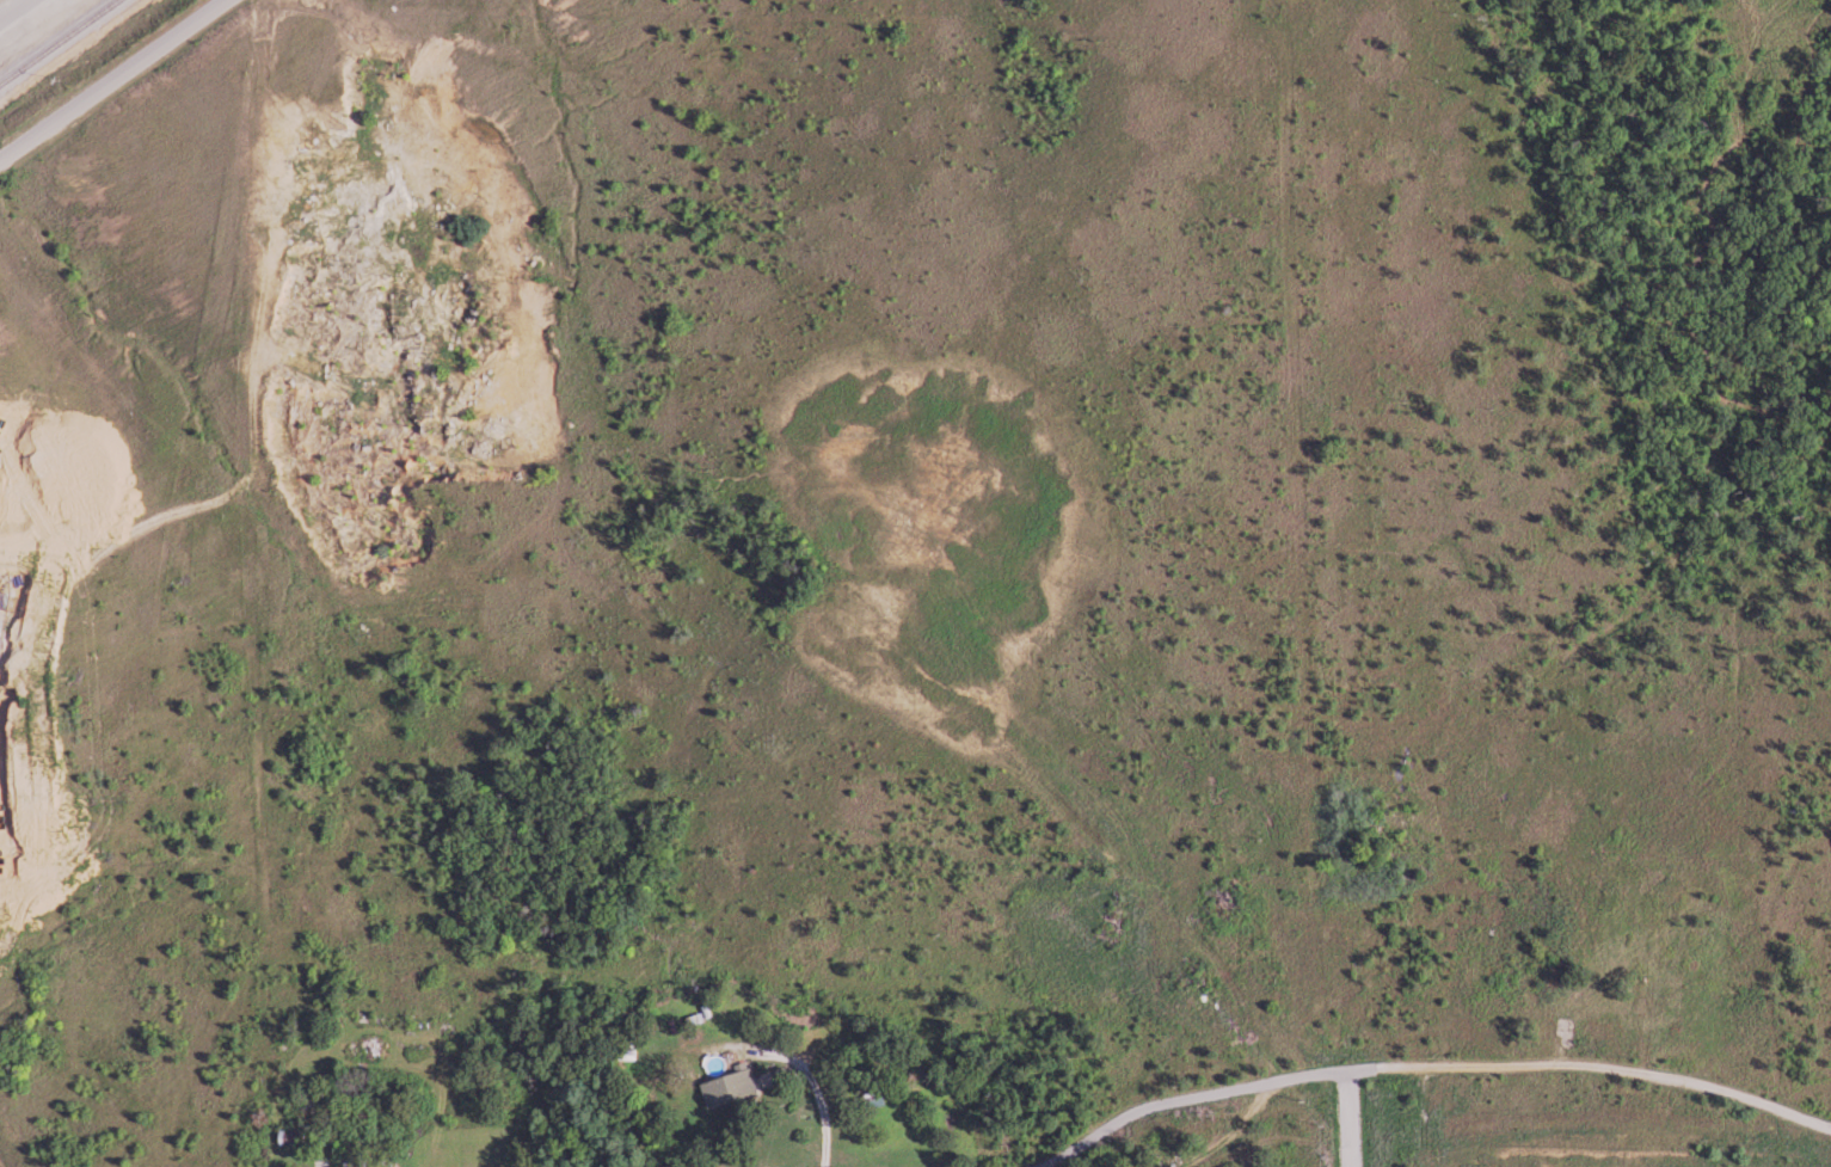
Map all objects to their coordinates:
road: (12, 8)
railway: (56, 41)
road: (115, 79)
road: (1415, 1062)
road: (1342, 1118)

